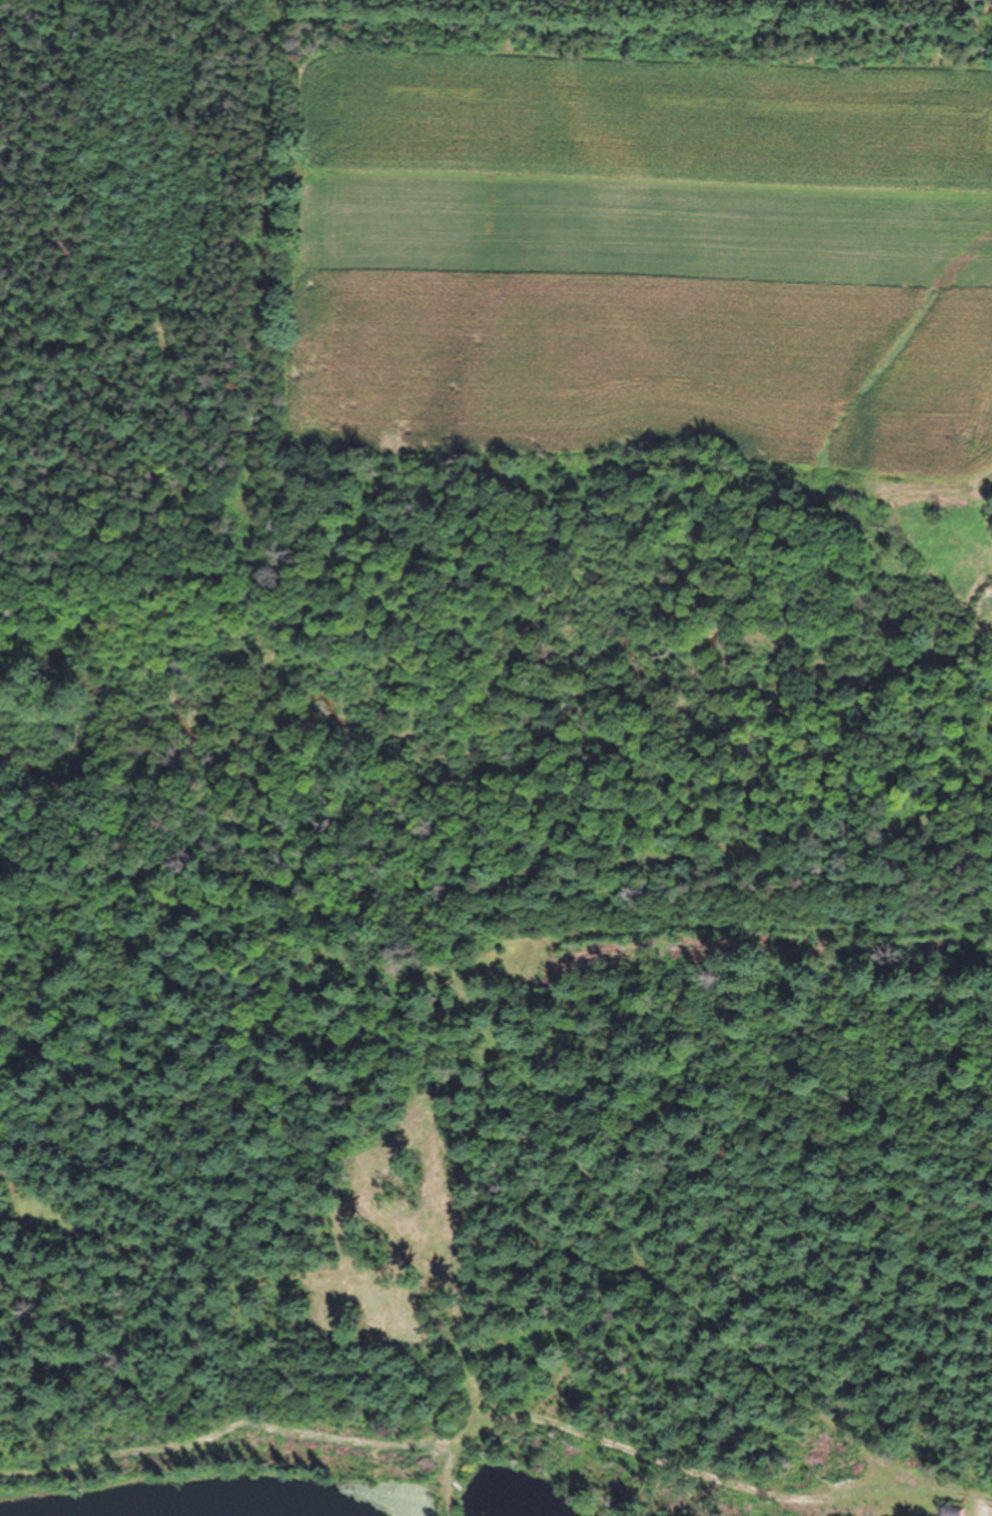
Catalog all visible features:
road: (636, 1468)
building: (943, 1513)
road: (967, 1514)

